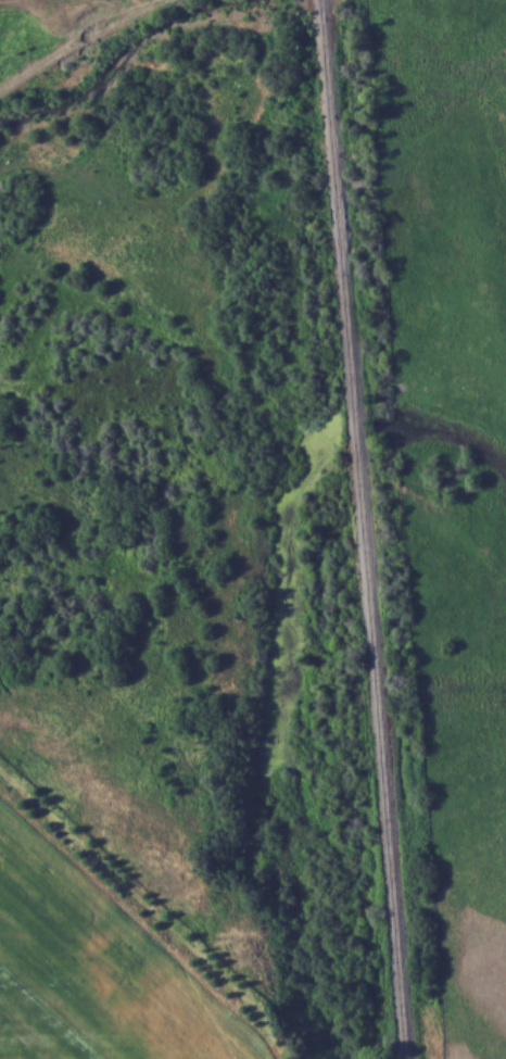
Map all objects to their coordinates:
railway: (363, 529)

